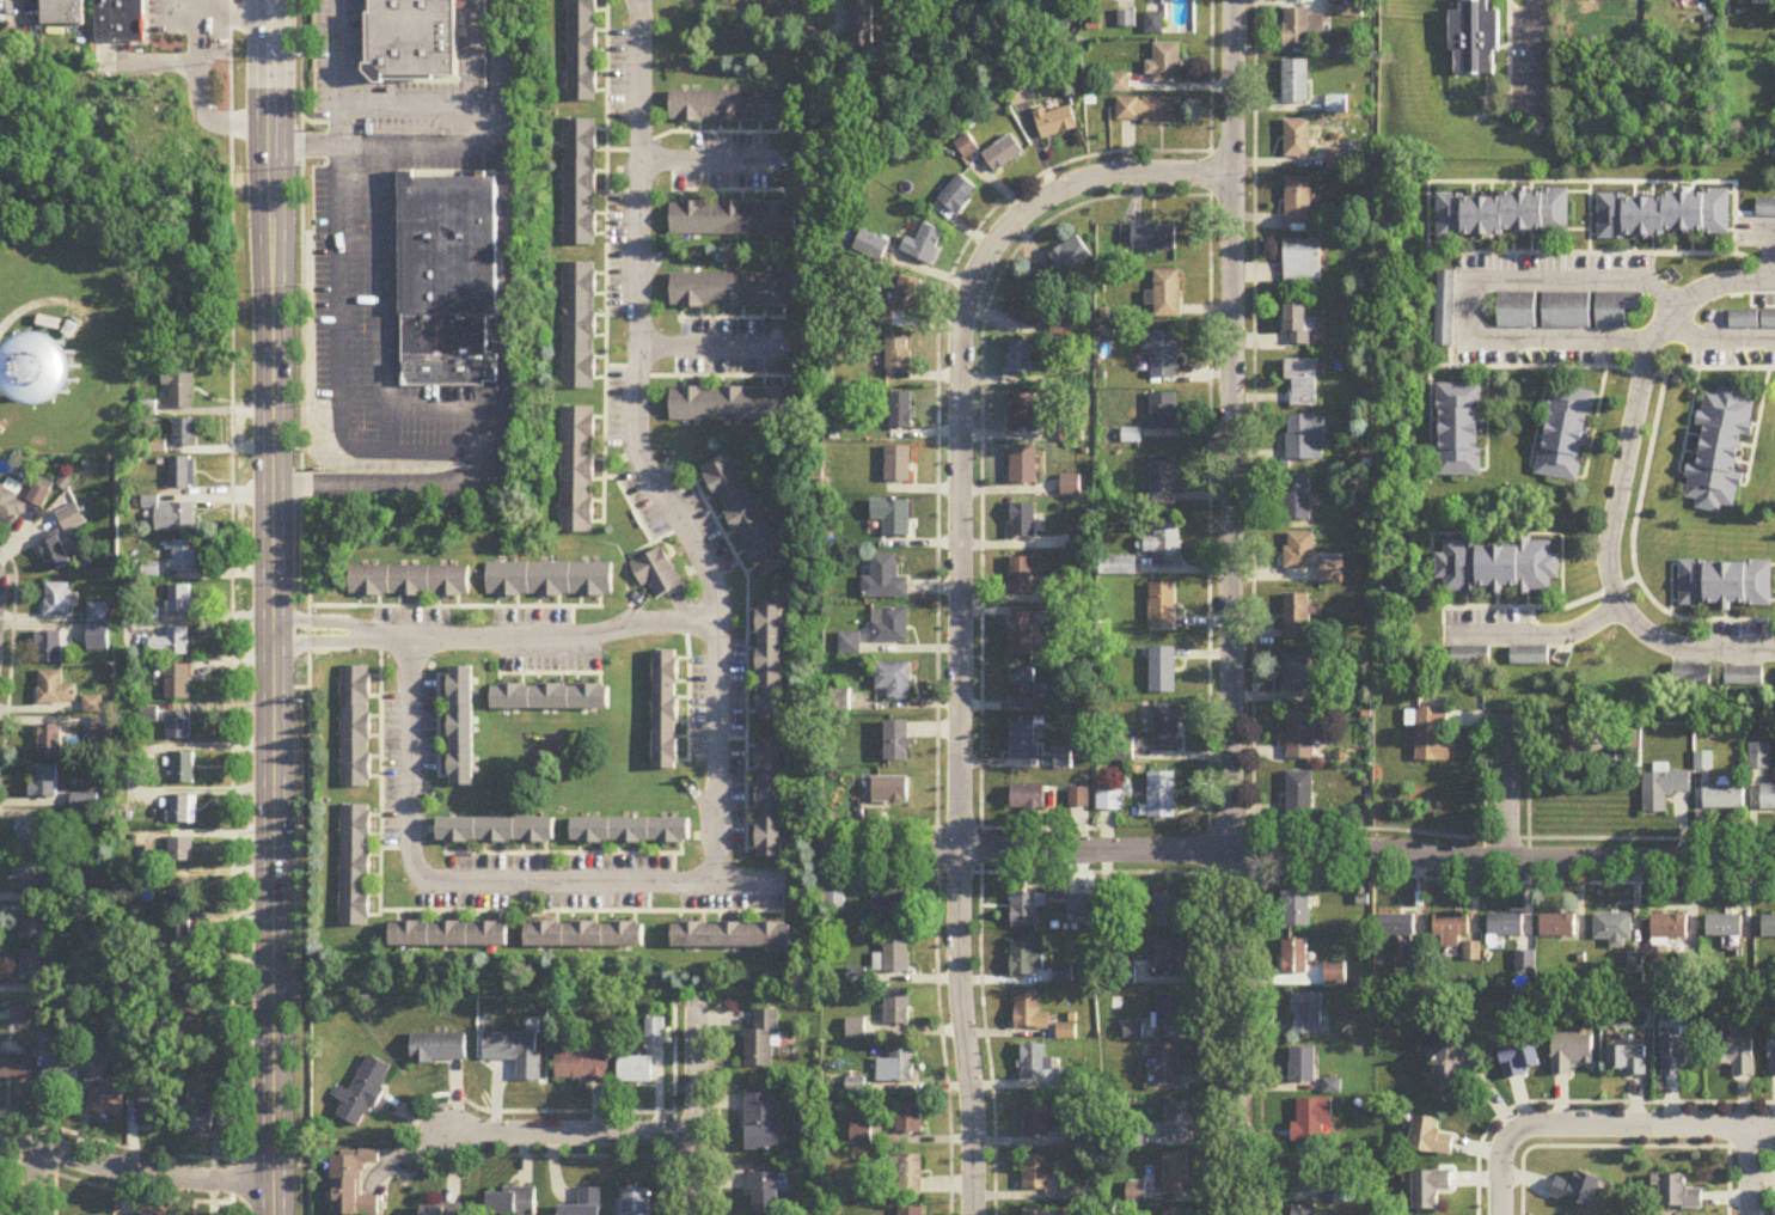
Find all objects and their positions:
building: (981, 0)
building: (1605, 0)
building: (1346, 10)
building: (62, 13)
road: (632, 13)
road: (638, 13)
road: (234, 17)
building: (118, 19)
building: (862, 23)
building: (990, 24)
building: (1152, 24)
building: (1302, 30)
building: (412, 39)
building: (1473, 39)
road: (1535, 50)
building: (581, 51)
road: (336, 54)
road: (475, 54)
building: (1164, 65)
road: (496, 72)
building: (372, 73)
building: (1294, 84)
road: (200, 90)
building: (1021, 94)
building: (1336, 105)
road: (417, 108)
building: (730, 108)
building: (1149, 111)
building: (1057, 122)
road: (688, 130)
building: (1297, 140)
road: (386, 144)
building: (966, 147)
building: (1003, 154)
road: (402, 157)
road: (709, 160)
road: (408, 172)
road: (445, 172)
building: (579, 183)
road: (693, 189)
road: (1126, 189)
building: (959, 195)
building: (1297, 202)
building: (1765, 209)
building: (1664, 214)
building: (1502, 215)
building: (733, 220)
building: (400, 237)
building: (1153, 238)
building: (449, 244)
building: (924, 245)
road: (1773, 251)
building: (1070, 256)
road: (602, 261)
building: (1302, 262)
road: (503, 276)
road: (402, 277)
road: (1470, 291)
building: (733, 292)
building: (1168, 294)
road: (386, 295)
building: (908, 298)
road: (31, 305)
building: (1029, 307)
building: (1616, 310)
building: (1444, 311)
building: (1566, 311)
building: (1516, 312)
road: (702, 317)
building: (1752, 320)
building: (1298, 325)
building: (577, 326)
building: (402, 332)
building: (443, 332)
road: (637, 334)
road: (1720, 341)
road: (710, 346)
building: (898, 355)
building: (1163, 355)
road: (337, 356)
building: (1020, 359)
building: (449, 366)
building: (50, 367)
road: (691, 374)
water tower: (47, 376)
road: (442, 383)
building: (1302, 384)
building: (178, 391)
road: (402, 396)
building: (732, 407)
road: (445, 408)
building: (900, 413)
building: (1022, 413)
building: (1163, 413)
building: (1458, 432)
building: (184, 433)
building: (1563, 434)
building: (1305, 439)
building: (1719, 451)
building: (898, 466)
building: (1023, 468)
building: (576, 471)
building: (180, 474)
building: (1164, 482)
road: (414, 484)
road: (1618, 488)
building: (1297, 499)
road: (629, 503)
building: (11, 505)
road: (934, 513)
building: (745, 517)
building: (175, 518)
building: (71, 519)
building: (896, 520)
building: (1022, 523)
road: (672, 526)
road: (666, 544)
building: (1165, 545)
building: (1299, 552)
building: (54, 556)
building: (184, 557)
building: (1119, 567)
building: (1333, 567)
building: (1498, 568)
building: (657, 575)
building: (1021, 576)
building: (883, 580)
building: (409, 581)
building: (550, 581)
building: (1726, 585)
road: (960, 596)
building: (56, 600)
building: (179, 600)
road: (455, 605)
road: (271, 606)
road: (308, 606)
road: (229, 607)
building: (1162, 607)
road: (1232, 607)
building: (97, 616)
building: (1297, 618)
road: (571, 619)
road: (326, 622)
building: (890, 628)
building: (1021, 634)
road: (1536, 635)
building: (98, 641)
road: (325, 641)
building: (171, 645)
road: (11, 647)
building: (49, 648)
building: (1469, 657)
building: (1529, 657)
road: (746, 659)
building: (771, 663)
building: (1163, 671)
building: (1297, 673)
road: (1260, 674)
building: (1690, 676)
building: (1742, 678)
building: (894, 680)
building: (177, 683)
building: (55, 690)
building: (1024, 690)
building: (551, 698)
building: (839, 701)
building: (666, 712)
building: (178, 727)
building: (461, 727)
building: (354, 728)
building: (1167, 729)
building: (1303, 735)
road: (730, 737)
building: (1432, 737)
building: (50, 741)
building: (898, 741)
building: (1023, 741)
building: (1627, 743)
building: (1571, 744)
building: (184, 769)
road: (1483, 770)
road: (378, 774)
road: (1534, 777)
building: (44, 782)
road: (1507, 788)
building: (890, 790)
building: (1663, 790)
building: (1299, 794)
building: (1162, 795)
building: (1078, 798)
building: (1724, 798)
building: (770, 799)
building: (1767, 799)
building: (1028, 800)
building: (1110, 801)
building: (85, 802)
building: (182, 811)
road: (968, 825)
building: (495, 831)
building: (631, 831)
building: (29, 835)
road: (392, 845)
road: (1304, 849)
road: (559, 851)
road: (1261, 851)
building: (180, 853)
building: (354, 867)
road: (1051, 871)
road: (1345, 873)
building: (24, 877)
road: (715, 877)
road: (660, 880)
road: (748, 880)
building: (1078, 906)
road: (579, 909)
building: (1109, 909)
building: (892, 910)
building: (1296, 911)
building: (1023, 912)
building: (1168, 912)
building: (1396, 926)
building: (32, 928)
building: (1557, 928)
building: (1724, 928)
building: (1768, 928)
building: (1502, 929)
building: (1450, 930)
building: (1612, 930)
building: (1669, 930)
building: (179, 936)
building: (449, 936)
building: (584, 936)
building: (732, 938)
building: (896, 957)
building: (1294, 958)
building: (1027, 960)
building: (1169, 960)
building: (31, 967)
building: (1335, 973)
building: (1063, 977)
building: (898, 1009)
building: (1169, 1013)
building: (1030, 1014)
building: (20, 1015)
building: (1306, 1015)
building: (186, 1027)
building: (763, 1042)
building: (44, 1043)
building: (437, 1050)
building: (1572, 1052)
building: (515, 1054)
building: (1678, 1055)
building: (1737, 1055)
building: (1771, 1056)
building: (1629, 1061)
building: (1522, 1062)
building: (1035, 1063)
building: (582, 1064)
building: (902, 1067)
building: (1169, 1067)
building: (1303, 1067)
building: (16, 1069)
building: (1452, 1069)
building: (61, 1070)
building: (636, 1070)
building: (362, 1094)
road: (1581, 1100)
building: (106, 1103)
road: (408, 1103)
road: (720, 1107)
road: (698, 1110)
building: (153, 1113)
building: (910, 1117)
building: (197, 1121)
building: (1036, 1121)
building: (1177, 1122)
building: (1312, 1122)
building: (763, 1124)
road: (1638, 1124)
road: (569, 1125)
building: (1431, 1137)
road: (114, 1143)
road: (1616, 1146)
road: (674, 1149)
road: (1750, 1170)
road: (133, 1172)
building: (1035, 1173)
building: (1176, 1174)
building: (912, 1177)
building: (1306, 1177)
road: (1499, 1177)
road: (37, 1180)
road: (1726, 1180)
road: (1770, 1180)
building: (351, 1185)
road: (114, 1189)
building: (1430, 1190)
building: (1578, 1190)
building: (765, 1193)
building: (1677, 1193)
building: (1344, 1195)
building: (512, 1202)
building: (635, 1202)
building: (586, 1204)
building: (442, 1210)
building: (911, 1211)
building: (1177, 1211)
building: (1304, 1211)
building: (1036, 1213)

